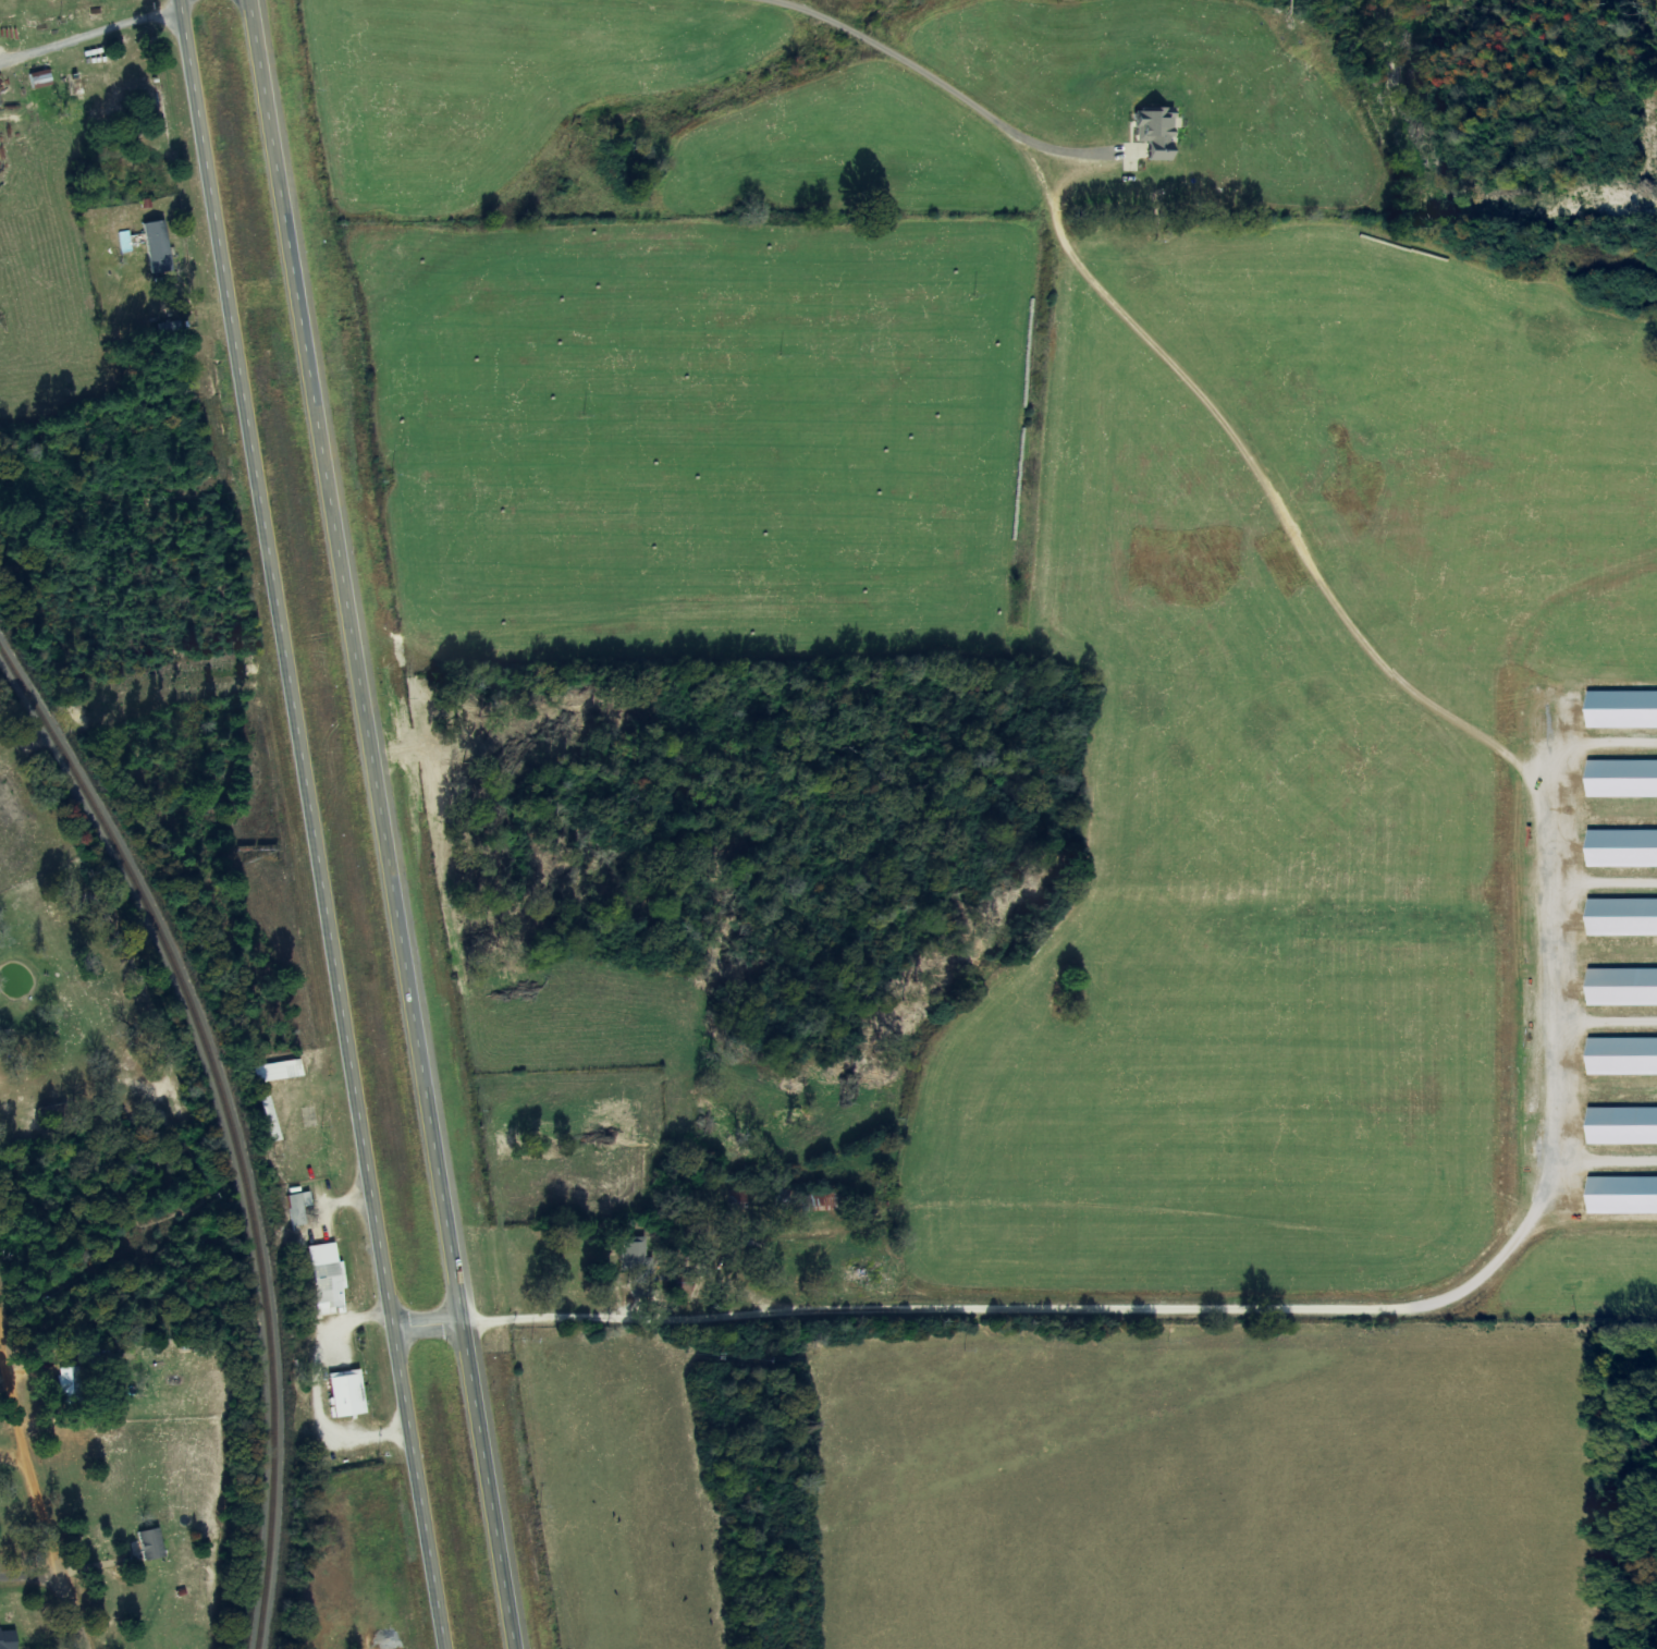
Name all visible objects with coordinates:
building: (1157, 132)
building: (158, 248)
building: (1619, 711)
building: (1619, 779)
road: (320, 823)
road: (392, 823)
building: (1619, 850)
building: (1620, 917)
building: (1620, 988)
building: (1620, 1056)
building: (280, 1071)
railway: (230, 1123)
building: (1620, 1127)
building: (1620, 1196)
building: (299, 1207)
building: (636, 1256)
building: (328, 1277)
building: (89, 1356)
road: (41, 1467)
building: (151, 1544)
road: (30, 1553)
building: (9, 1639)

